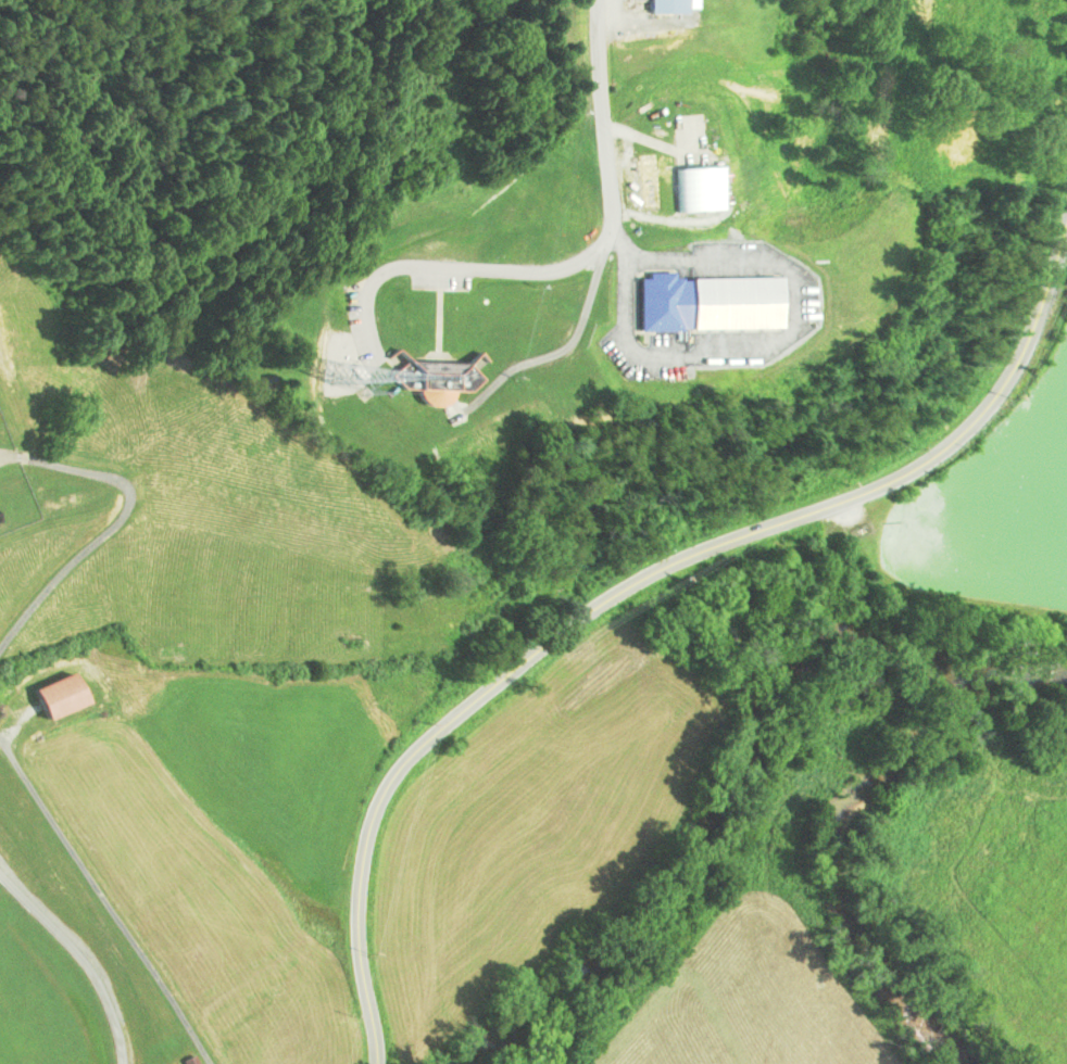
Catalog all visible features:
building: (666, 5)
road: (555, 257)
building: (707, 303)
building: (432, 379)
road: (104, 533)
road: (630, 585)
river: (794, 660)
building: (55, 696)
river: (824, 869)
road: (106, 899)
road: (83, 957)
river: (544, 992)
crop: (723, 1003)
building: (190, 1061)

